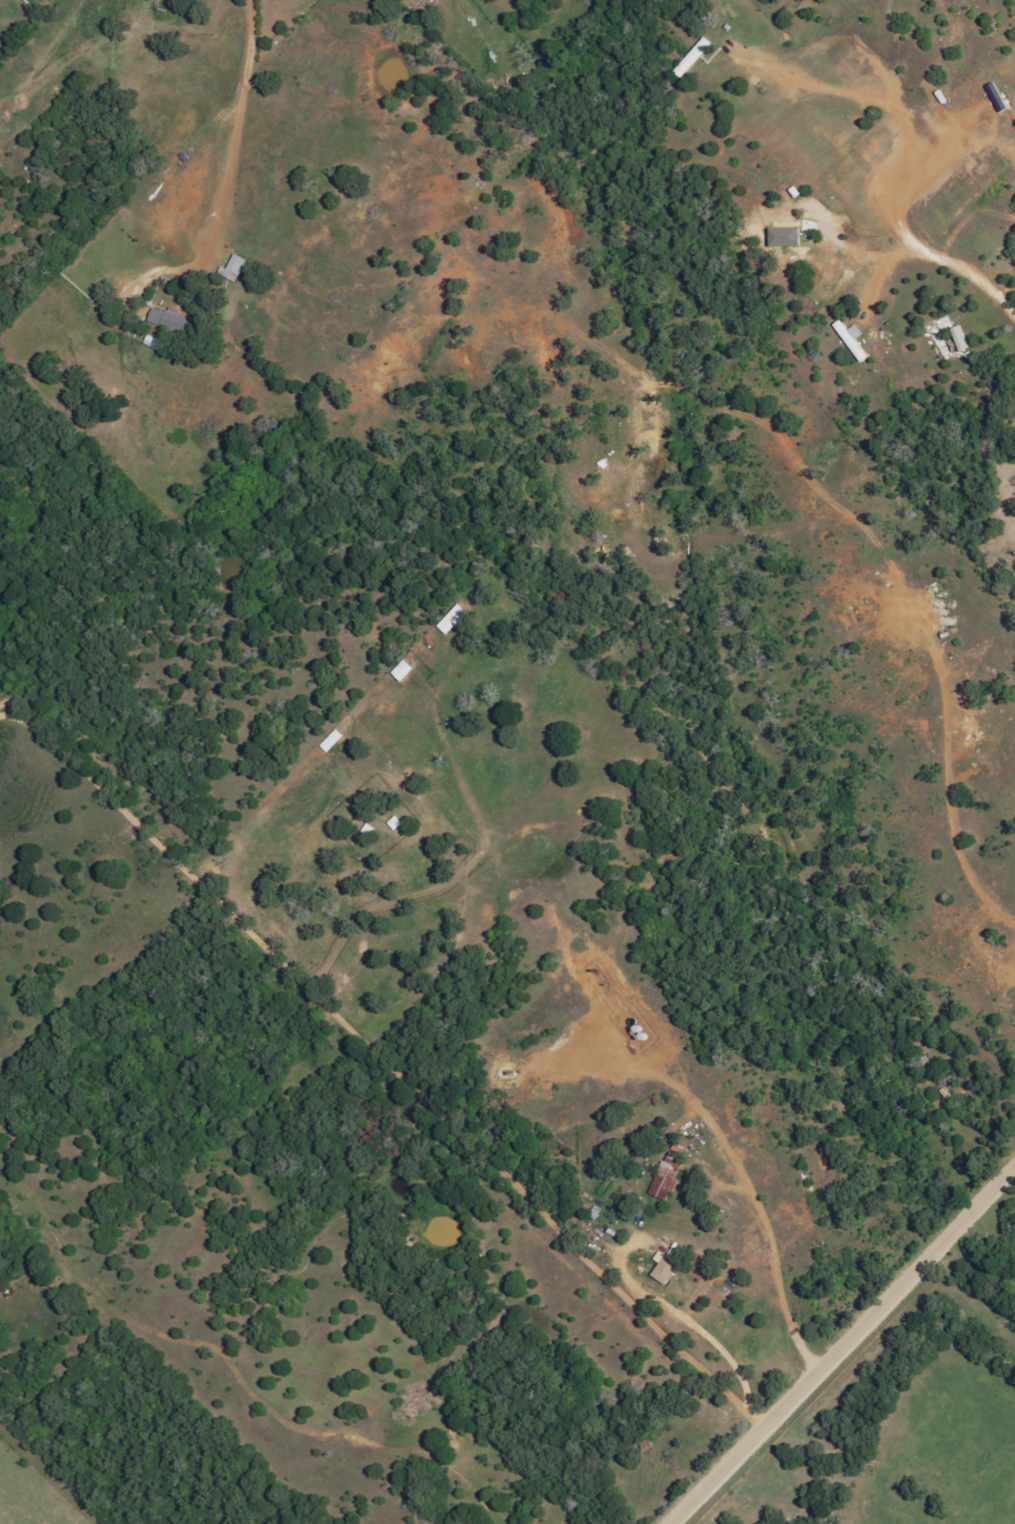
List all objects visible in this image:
building: (694, 57)
road: (841, 91)
road: (237, 138)
road: (911, 239)
building: (235, 268)
building: (174, 320)
building: (961, 338)
building: (853, 339)
building: (453, 619)
building: (404, 671)
building: (333, 740)
building: (397, 822)
road: (383, 1060)
building: (670, 1172)
building: (676, 1250)
building: (666, 1268)
road: (409, 1292)
road: (842, 1346)
road: (68, 1475)

